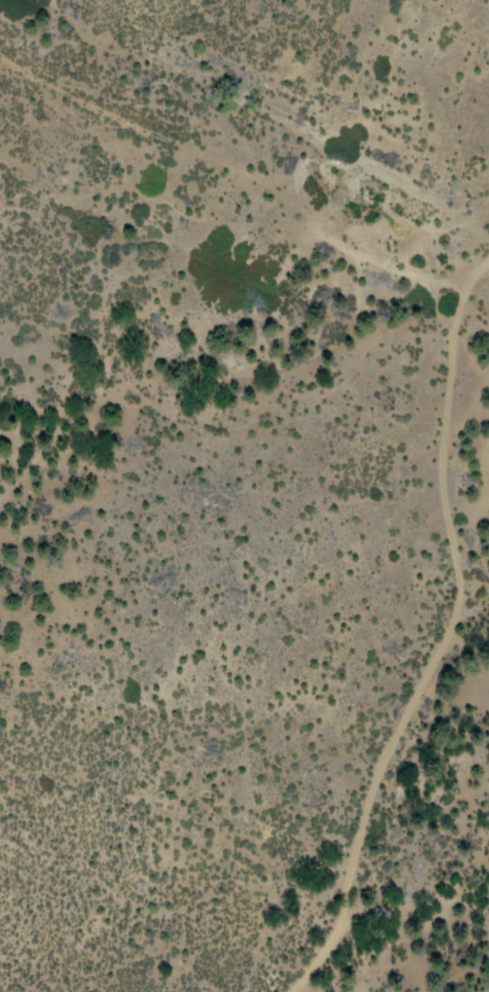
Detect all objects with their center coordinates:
road: (438, 636)

